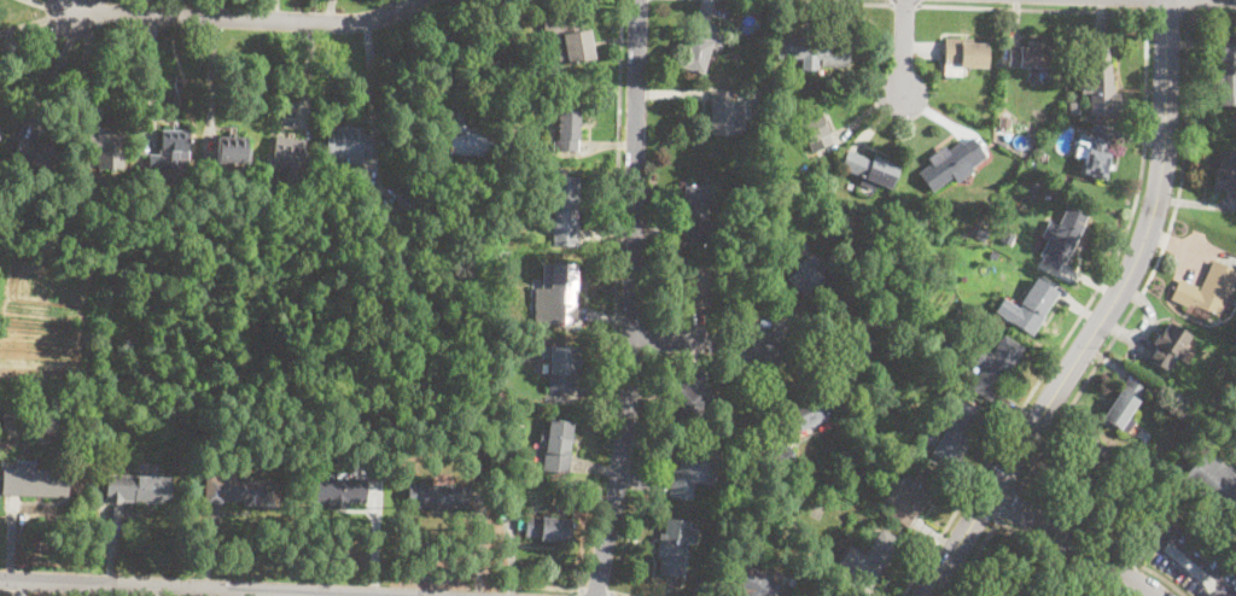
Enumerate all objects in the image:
road: (1225, 0)
road: (805, 2)
road: (74, 5)
road: (59, 6)
road: (904, 6)
road: (1148, 6)
road: (1188, 7)
road: (1032, 10)
road: (328, 11)
road: (1167, 14)
road: (249, 18)
road: (40, 19)
building: (570, 37)
building: (701, 43)
building: (804, 47)
road: (41, 48)
road: (904, 48)
road: (456, 51)
building: (964, 55)
building: (1030, 55)
road: (53, 71)
building: (1226, 71)
building: (1101, 82)
building: (1074, 109)
building: (723, 113)
building: (1005, 122)
building: (812, 125)
building: (567, 129)
building: (0, 134)
building: (349, 141)
building: (468, 141)
building: (106, 146)
building: (169, 151)
building: (233, 151)
building: (39, 154)
building: (1092, 154)
building: (290, 157)
building: (1045, 158)
building: (950, 163)
building: (870, 168)
building: (1225, 171)
building: (815, 186)
building: (406, 198)
building: (303, 201)
road: (617, 201)
building: (365, 203)
building: (565, 208)
building: (696, 210)
building: (984, 230)
building: (1008, 238)
building: (1061, 238)
building: (756, 241)
building: (993, 255)
road: (1132, 263)
road: (1154, 268)
building: (805, 275)
building: (696, 286)
building: (1207, 292)
building: (556, 293)
building: (913, 298)
road: (632, 299)
building: (1030, 306)
building: (961, 312)
building: (910, 317)
road: (1077, 321)
road: (698, 341)
building: (1168, 345)
building: (846, 353)
building: (1207, 356)
building: (995, 366)
building: (562, 368)
building: (692, 397)
building: (1120, 411)
building: (801, 415)
building: (12, 417)
building: (958, 430)
building: (43, 442)
building: (374, 443)
building: (556, 445)
building: (786, 455)
building: (694, 467)
building: (1083, 467)
building: (34, 480)
building: (1212, 486)
building: (138, 489)
building: (241, 491)
building: (339, 491)
building: (430, 495)
building: (911, 495)
road: (1008, 504)
building: (514, 509)
building: (548, 528)
road: (1101, 541)
road: (1071, 543)
road: (957, 544)
building: (675, 545)
road: (1135, 553)
building: (875, 555)
road: (1057, 555)
road: (974, 557)
parking lot: (1187, 559)
road: (1191, 560)
building: (756, 583)
building: (793, 583)
road: (193, 588)
road: (544, 588)
road: (596, 590)
road: (150, 591)
road: (618, 594)
building: (1063, 594)
road: (1147, 595)

